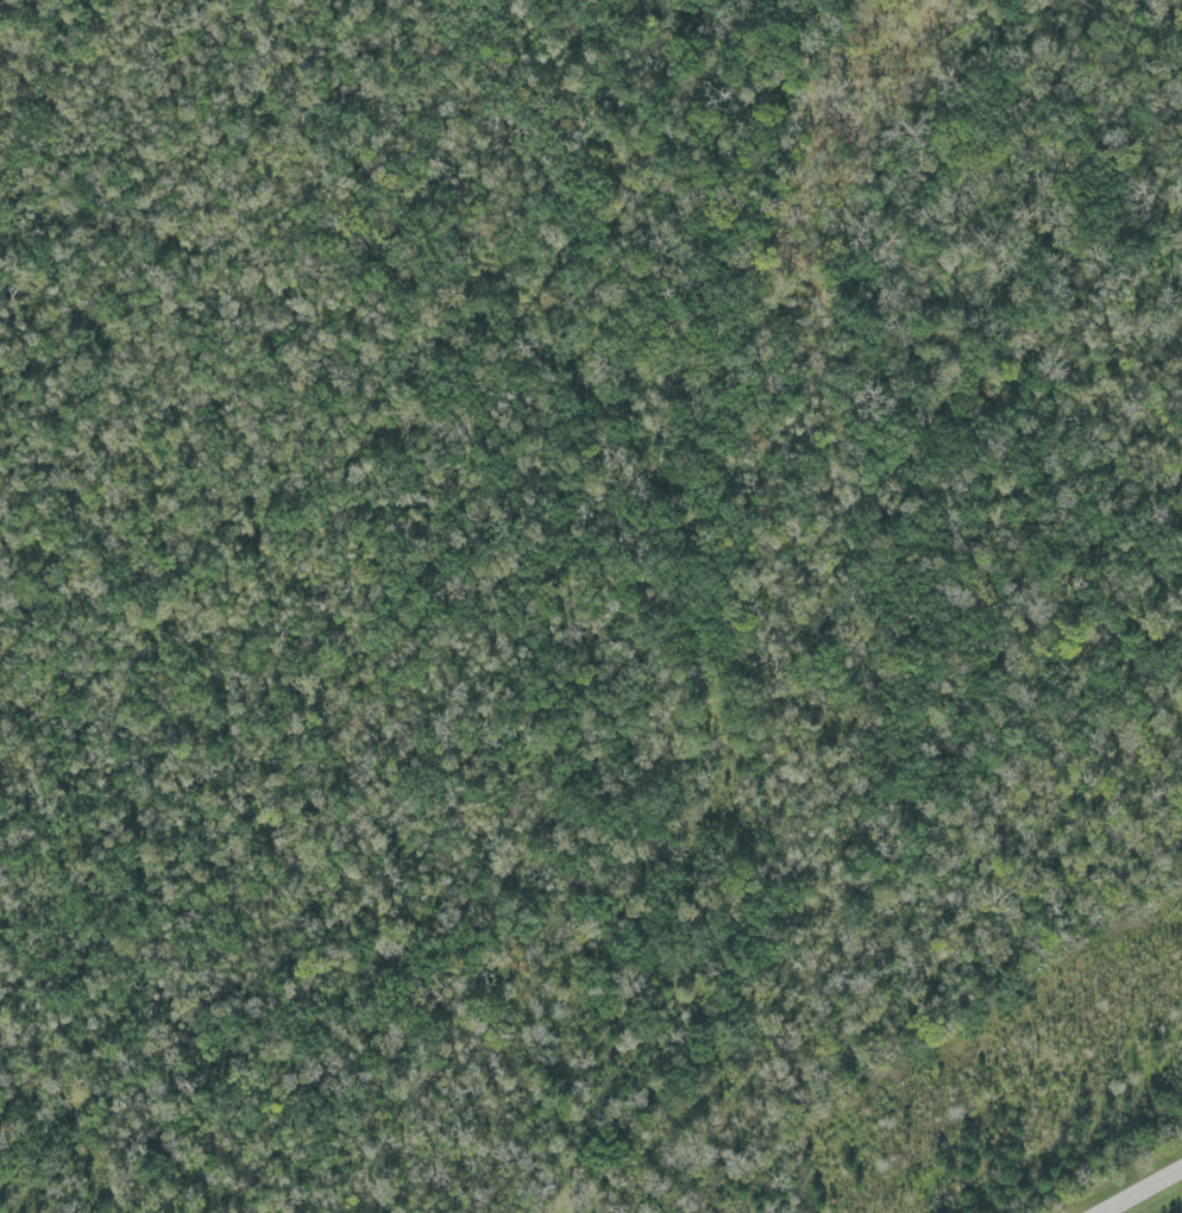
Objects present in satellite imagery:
road: (1150, 1195)

